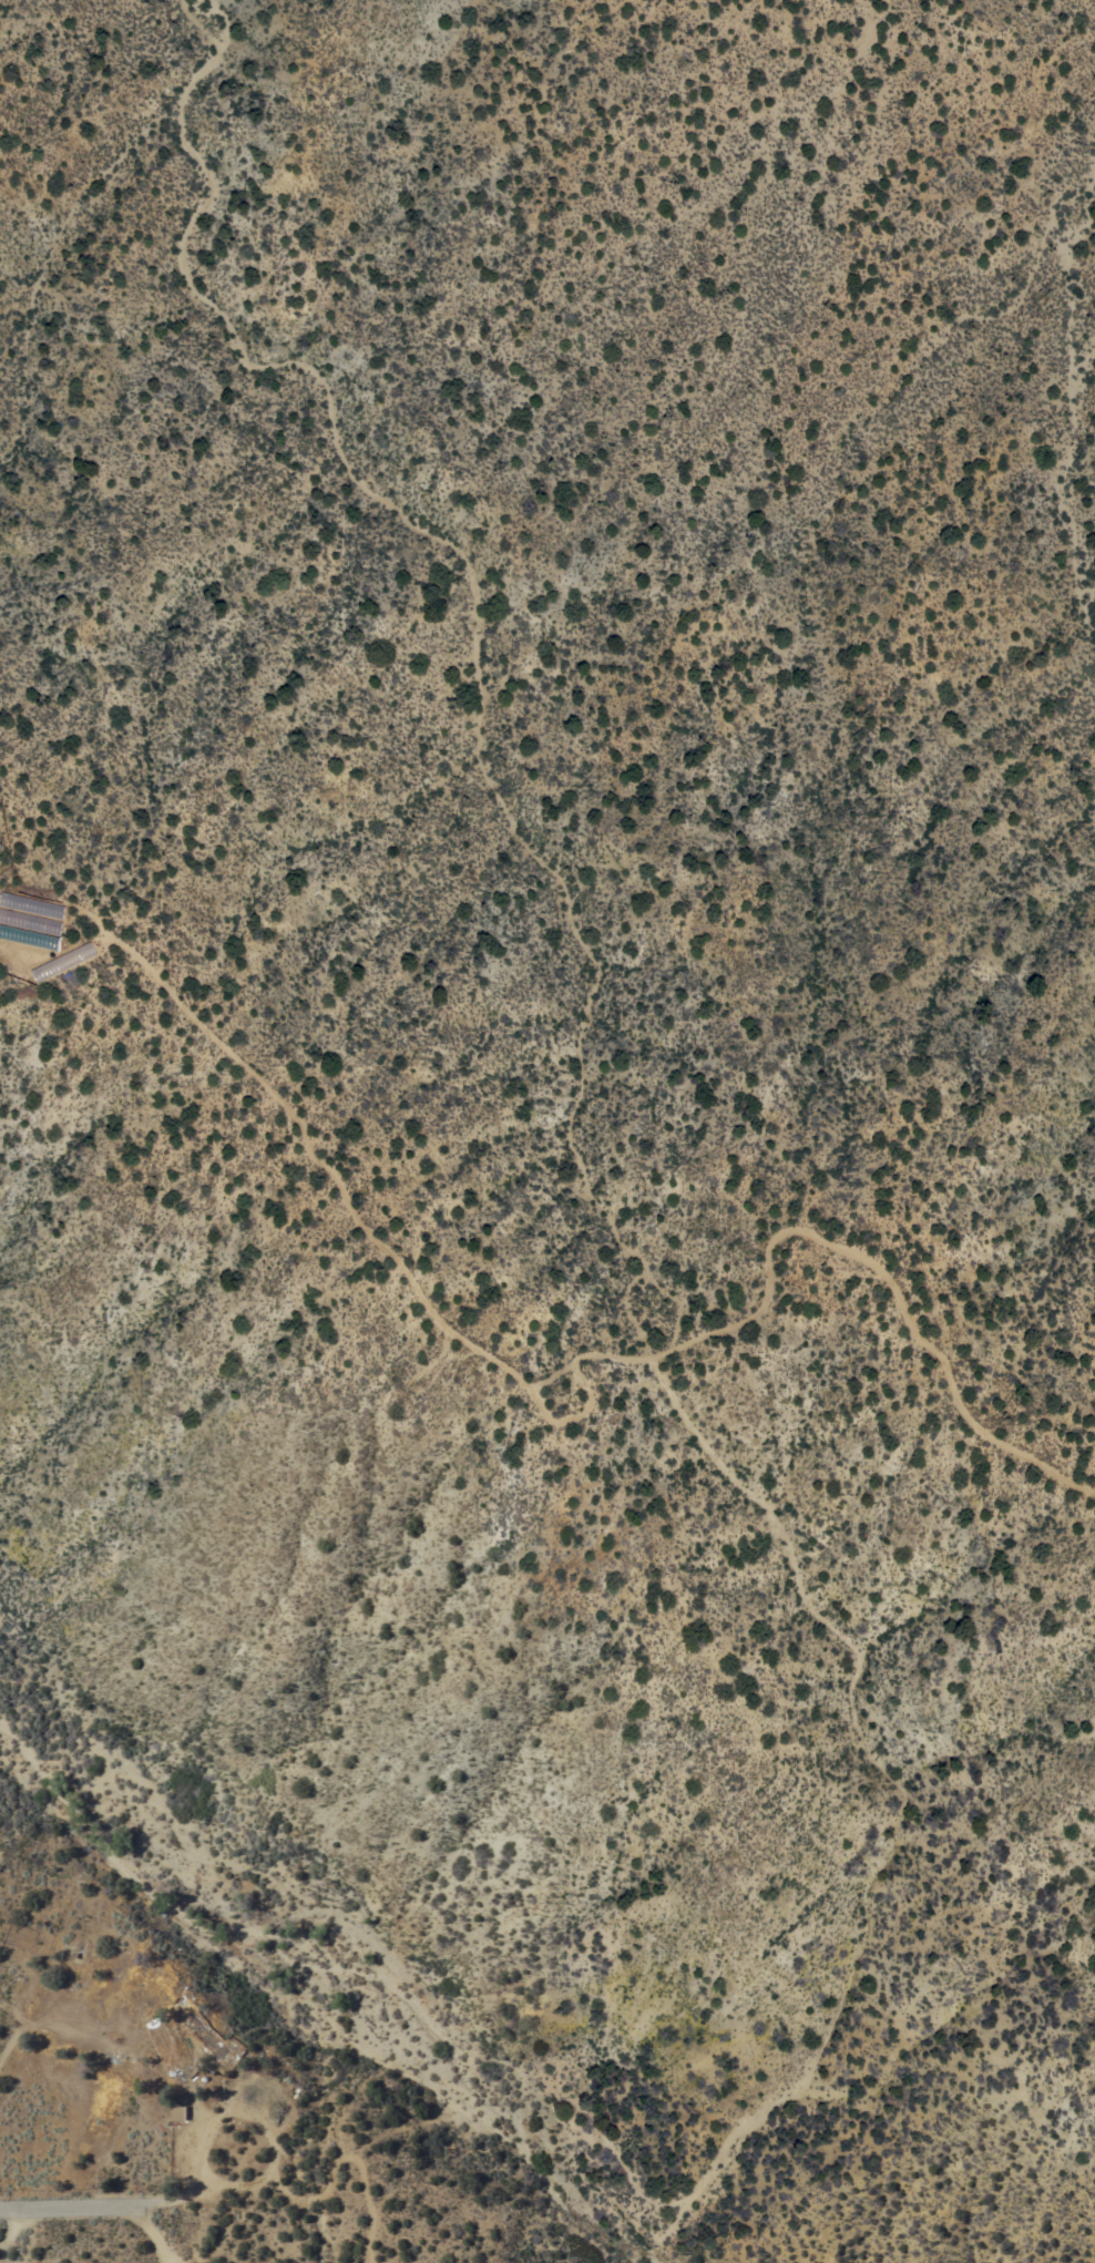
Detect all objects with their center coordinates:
building: (249, 2100)
building: (176, 2113)
road: (62, 2214)
road: (308, 2233)
road: (160, 2239)

